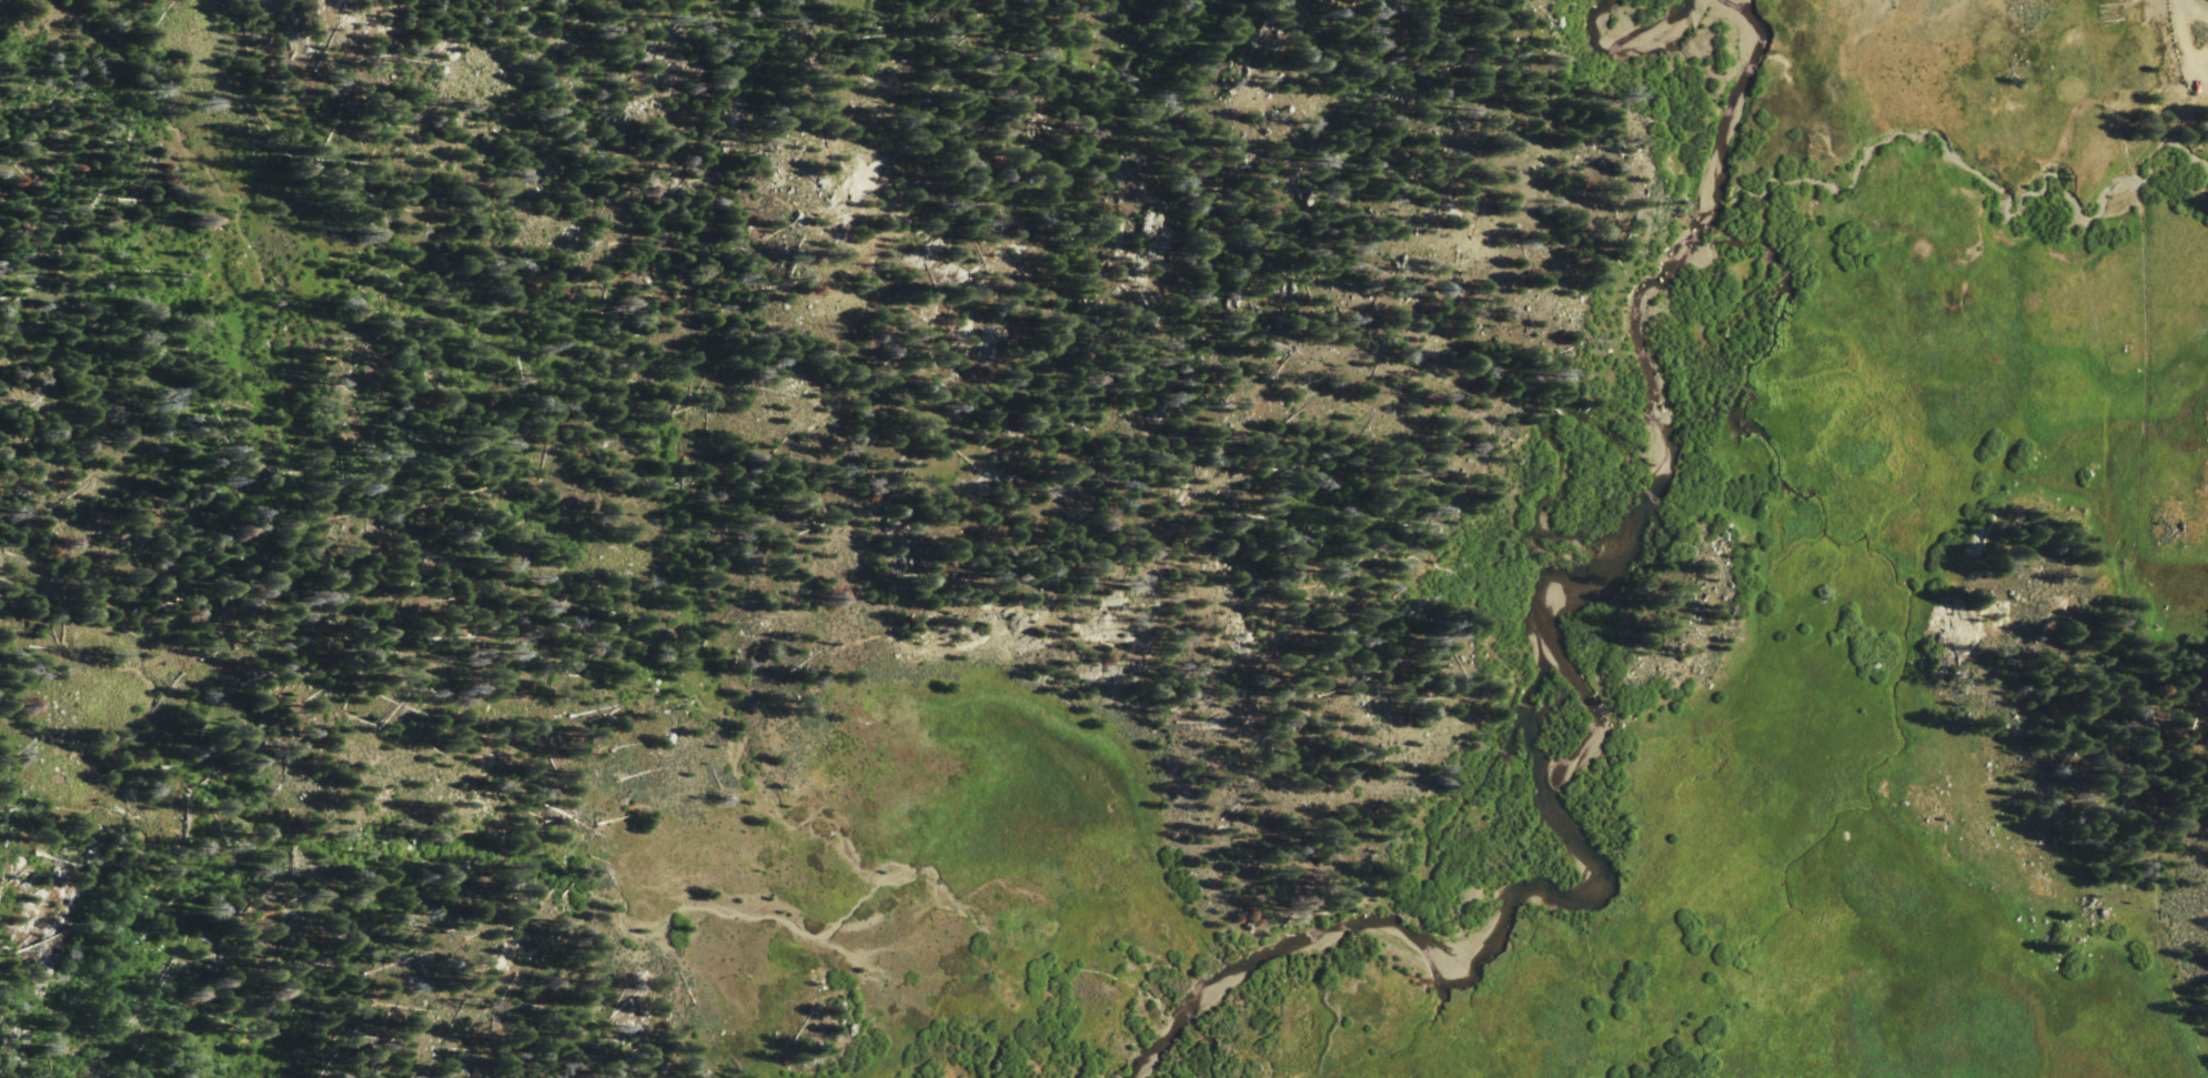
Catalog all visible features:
road: (2197, 12)
river: (1623, 39)
road: (2184, 42)
road: (2133, 535)
river: (1571, 676)

